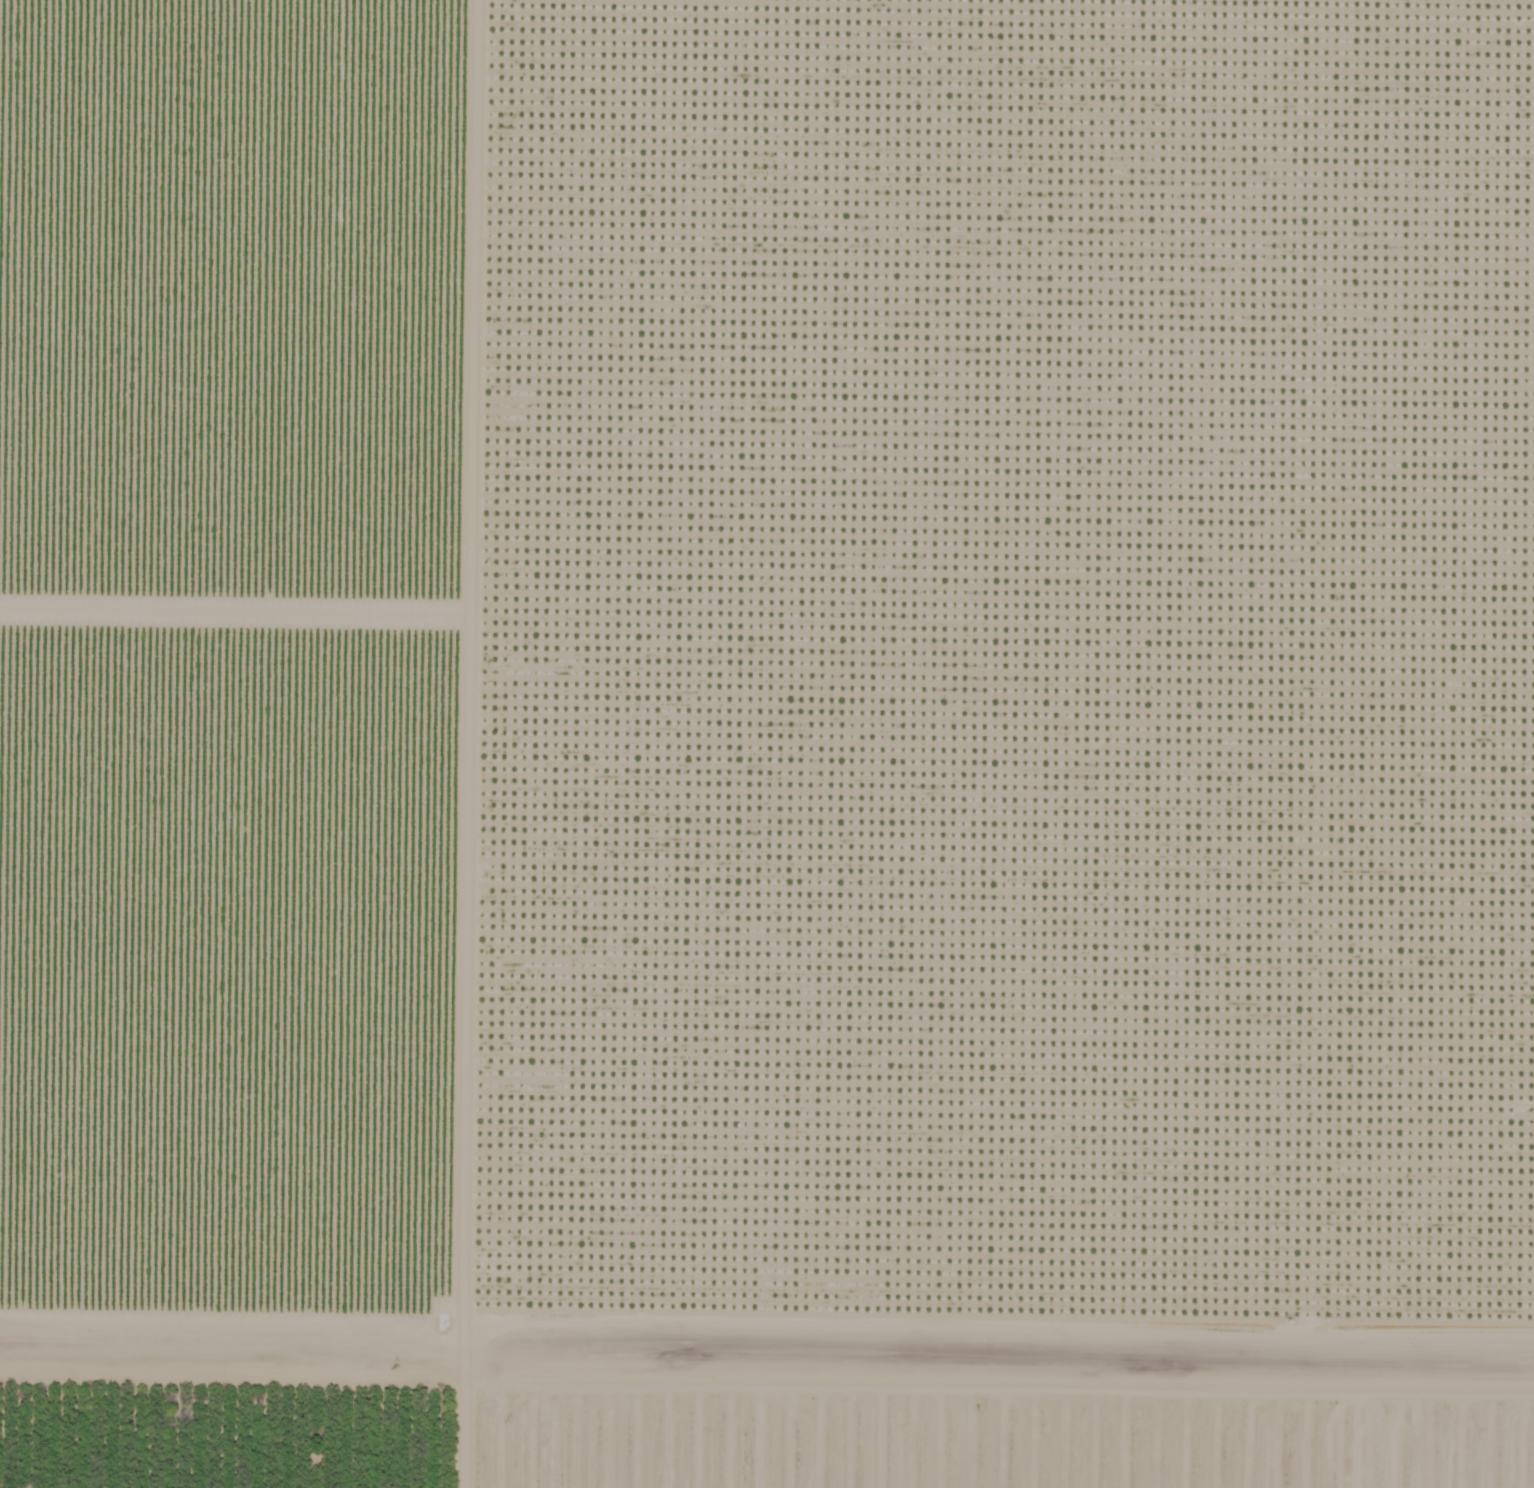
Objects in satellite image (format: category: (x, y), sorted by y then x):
crop: (256, 212)
crop: (1024, 637)
road: (517, 744)
crop: (256, 844)
crop: (257, 1373)

